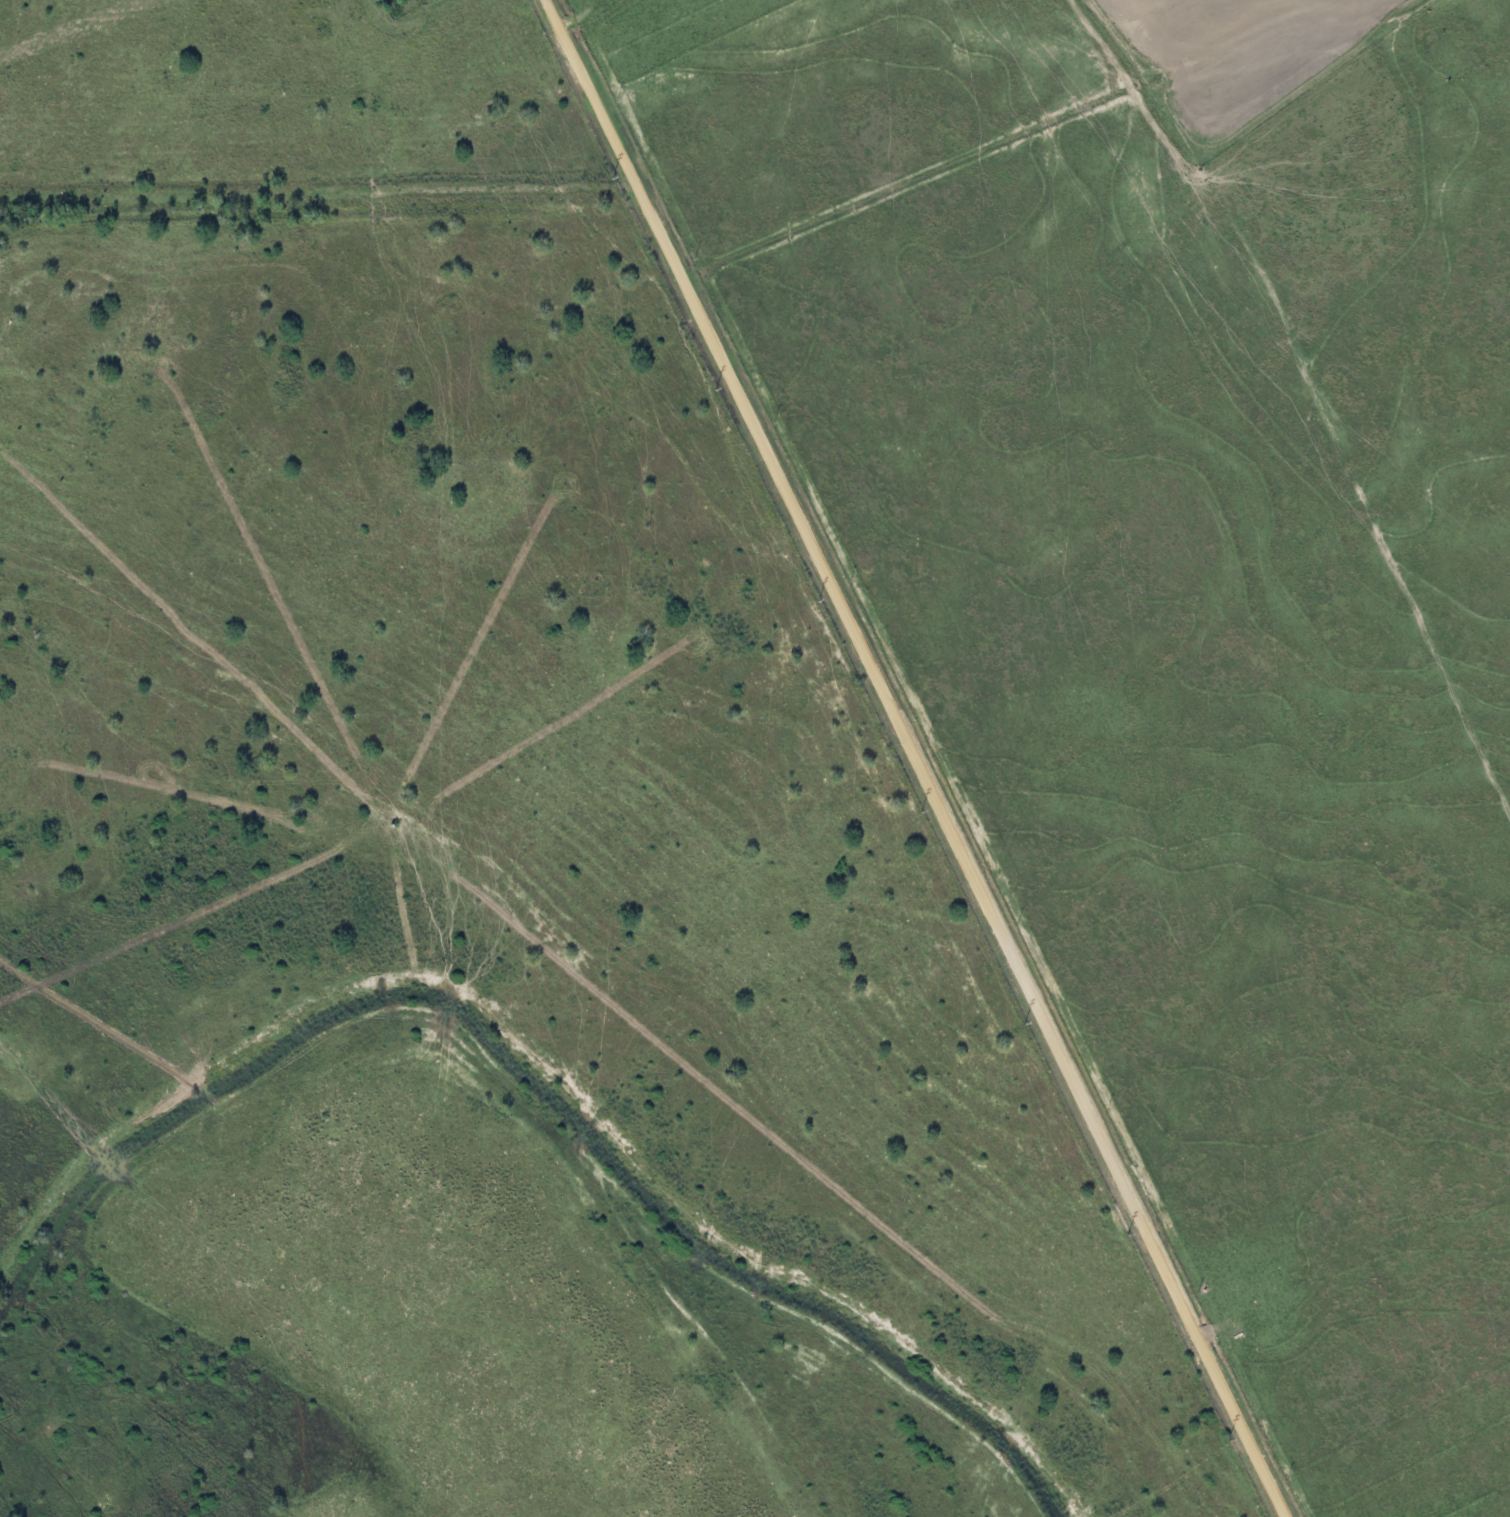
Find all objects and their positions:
road: (912, 758)

